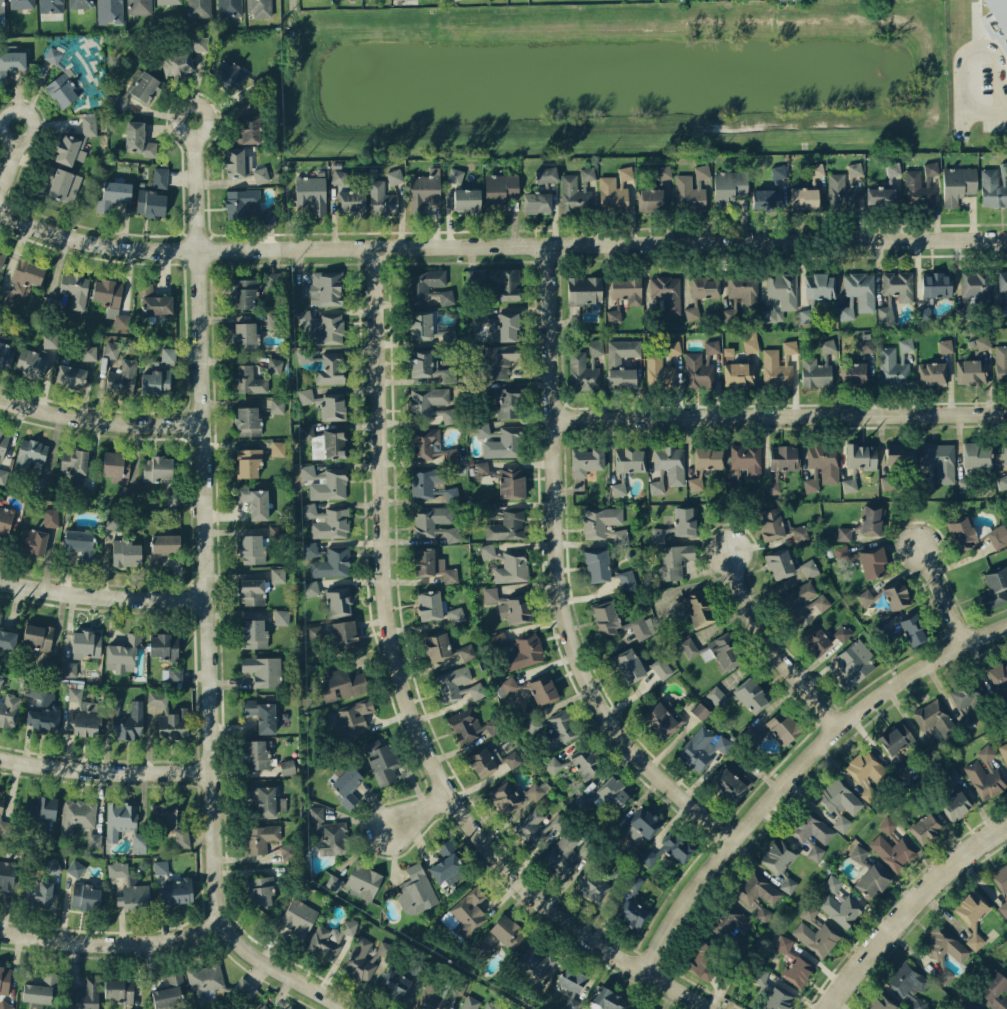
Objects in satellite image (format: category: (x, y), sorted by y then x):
building: (168, 1)
building: (21, 4)
building: (80, 4)
building: (51, 6)
building: (139, 7)
building: (229, 7)
building: (199, 8)
building: (258, 8)
building: (109, 11)
building: (2, 12)
building: (999, 12)
building: (199, 43)
road: (961, 51)
building: (53, 54)
building: (11, 62)
building: (176, 63)
building: (229, 74)
building: (145, 87)
building: (62, 88)
building: (118, 101)
road: (1001, 108)
building: (249, 129)
building: (138, 139)
building: (76, 141)
road: (21, 155)
building: (237, 162)
building: (1003, 167)
building: (892, 168)
building: (931, 168)
building: (816, 169)
building: (854, 169)
building: (663, 172)
building: (587, 173)
building: (260, 174)
building: (545, 174)
building: (455, 175)
building: (394, 176)
building: (160, 177)
building: (339, 177)
building: (958, 184)
building: (501, 187)
building: (728, 187)
building: (614, 189)
building: (992, 189)
building: (424, 190)
building: (691, 190)
building: (917, 190)
building: (841, 192)
building: (311, 193)
building: (113, 194)
building: (574, 195)
building: (881, 197)
building: (381, 198)
building: (804, 198)
building: (651, 199)
building: (767, 199)
building: (467, 200)
building: (240, 201)
building: (351, 201)
building: (536, 202)
building: (151, 203)
building: (266, 216)
road: (500, 245)
building: (2, 255)
building: (22, 280)
building: (273, 282)
building: (423, 282)
building: (1002, 282)
building: (505, 284)
building: (936, 284)
building: (976, 284)
building: (899, 285)
building: (820, 286)
building: (703, 287)
building: (323, 288)
building: (75, 289)
building: (584, 289)
building: (861, 289)
building: (744, 290)
building: (107, 291)
building: (626, 291)
building: (667, 292)
building: (244, 293)
building: (446, 296)
building: (780, 296)
building: (154, 300)
building: (1000, 309)
building: (692, 311)
building: (846, 312)
building: (961, 313)
building: (729, 314)
building: (924, 314)
building: (885, 315)
building: (613, 316)
building: (806, 316)
building: (122, 321)
building: (273, 321)
building: (420, 324)
building: (500, 324)
building: (320, 327)
building: (245, 336)
building: (50, 340)
building: (983, 342)
building: (750, 344)
building: (906, 344)
building: (866, 345)
building: (944, 345)
building: (712, 346)
building: (790, 346)
building: (828, 346)
building: (595, 347)
building: (673, 347)
building: (111, 349)
building: (89, 353)
building: (6, 354)
building: (168, 354)
building: (499, 360)
building: (613, 361)
building: (32, 362)
building: (275, 365)
building: (430, 366)
building: (891, 367)
building: (329, 368)
building: (698, 370)
building: (775, 370)
building: (659, 371)
building: (971, 371)
building: (582, 372)
building: (933, 372)
building: (815, 373)
building: (854, 373)
building: (738, 374)
building: (70, 375)
building: (122, 377)
building: (248, 379)
building: (156, 381)
building: (305, 395)
building: (508, 403)
building: (430, 404)
building: (277, 405)
building: (333, 406)
road: (781, 414)
road: (101, 419)
building: (247, 420)
building: (482, 429)
building: (306, 432)
building: (424, 442)
building: (333, 443)
building: (504, 443)
building: (3, 444)
building: (278, 448)
building: (1004, 452)
building: (443, 453)
building: (900, 453)
building: (29, 454)
building: (976, 455)
building: (861, 456)
building: (784, 457)
building: (629, 459)
building: (746, 459)
building: (586, 460)
building: (940, 460)
building: (74, 461)
building: (824, 461)
building: (248, 462)
building: (670, 463)
building: (704, 464)
building: (116, 466)
building: (157, 468)
building: (2, 475)
building: (325, 482)
building: (425, 482)
building: (511, 482)
building: (887, 482)
building: (811, 484)
building: (849, 484)
building: (656, 486)
building: (618, 487)
building: (772, 487)
building: (451, 494)
building: (254, 501)
building: (309, 510)
building: (50, 518)
building: (5, 520)
building: (685, 520)
building: (872, 520)
building: (113, 521)
building: (434, 522)
building: (770, 523)
building: (330, 524)
building: (605, 524)
building: (505, 525)
building: (800, 532)
building: (962, 532)
building: (844, 533)
building: (998, 536)
building: (33, 540)
building: (162, 547)
building: (252, 549)
building: (310, 549)
building: (487, 550)
building: (842, 551)
building: (126, 553)
building: (671, 560)
building: (332, 562)
building: (872, 562)
building: (787, 564)
building: (433, 565)
building: (597, 565)
building: (512, 567)
road: (560, 573)
building: (277, 575)
building: (626, 580)
road: (943, 584)
building: (311, 587)
building: (994, 588)
road: (209, 590)
building: (252, 591)
road: (104, 593)
building: (895, 595)
building: (797, 600)
building: (338, 601)
building: (820, 603)
building: (509, 605)
building: (436, 607)
building: (697, 607)
building: (281, 616)
building: (0, 617)
building: (618, 621)
building: (913, 629)
building: (254, 633)
building: (344, 633)
building: (841, 633)
building: (37, 635)
road: (770, 637)
building: (7, 639)
building: (815, 639)
building: (501, 641)
building: (86, 644)
building: (163, 645)
building: (436, 646)
building: (689, 647)
building: (724, 650)
building: (466, 652)
building: (524, 652)
building: (123, 654)
building: (853, 664)
building: (628, 665)
building: (49, 666)
building: (69, 668)
building: (660, 668)
building: (263, 670)
building: (175, 673)
building: (999, 678)
building: (1, 680)
building: (452, 682)
building: (343, 684)
building: (506, 686)
building: (543, 689)
building: (474, 690)
building: (74, 693)
building: (751, 694)
building: (717, 696)
road: (412, 697)
building: (157, 698)
building: (965, 701)
building: (42, 708)
building: (9, 710)
building: (699, 711)
building: (262, 715)
building: (349, 718)
building: (662, 718)
building: (935, 718)
building: (84, 719)
building: (129, 722)
building: (172, 724)
building: (465, 724)
building: (784, 727)
building: (561, 729)
building: (932, 740)
building: (895, 744)
building: (702, 748)
building: (1004, 750)
building: (258, 753)
building: (512, 759)
building: (381, 760)
building: (584, 760)
building: (552, 765)
building: (287, 766)
road: (800, 766)
road: (106, 771)
building: (868, 772)
building: (985, 773)
building: (952, 776)
building: (732, 784)
building: (347, 786)
building: (534, 791)
building: (605, 795)
building: (504, 797)
building: (1, 798)
building: (266, 800)
building: (839, 802)
building: (956, 805)
building: (40, 806)
building: (77, 814)
road: (417, 814)
building: (164, 815)
building: (120, 818)
building: (642, 825)
building: (887, 825)
building: (5, 827)
building: (535, 827)
building: (926, 827)
building: (811, 831)
building: (329, 833)
building: (182, 837)
building: (260, 838)
building: (139, 842)
building: (667, 850)
building: (287, 851)
building: (892, 851)
building: (565, 853)
building: (858, 853)
building: (778, 855)
building: (51, 865)
building: (447, 865)
building: (160, 866)
building: (75, 868)
building: (7, 875)
building: (872, 881)
building: (358, 882)
building: (832, 883)
building: (788, 884)
building: (592, 886)
building: (1001, 886)
building: (129, 889)
building: (261, 890)
building: (416, 891)
building: (38, 893)
building: (758, 894)
building: (84, 896)
road: (908, 907)
building: (841, 908)
building: (808, 912)
building: (633, 914)
building: (972, 915)
building: (299, 917)
building: (730, 920)
building: (507, 931)
building: (816, 937)
building: (329, 938)
building: (783, 943)
road: (115, 945)
building: (944, 945)
building: (482, 947)
building: (363, 958)
building: (536, 960)
building: (701, 960)
building: (798, 970)
building: (943, 974)
building: (759, 975)
building: (4, 978)
building: (205, 981)
building: (395, 984)
building: (908, 984)
building: (571, 985)
building: (244, 988)
building: (40, 989)
building: (118, 989)
building: (169, 990)
building: (993, 990)
building: (84, 994)
building: (431, 997)
building: (608, 999)
building: (777, 999)
building: (469, 1002)
building: (881, 1002)
building: (5, 1005)
building: (491, 1005)
building: (263, 1007)
building: (290, 1007)
building: (631, 1007)
building: (129, 1008)

